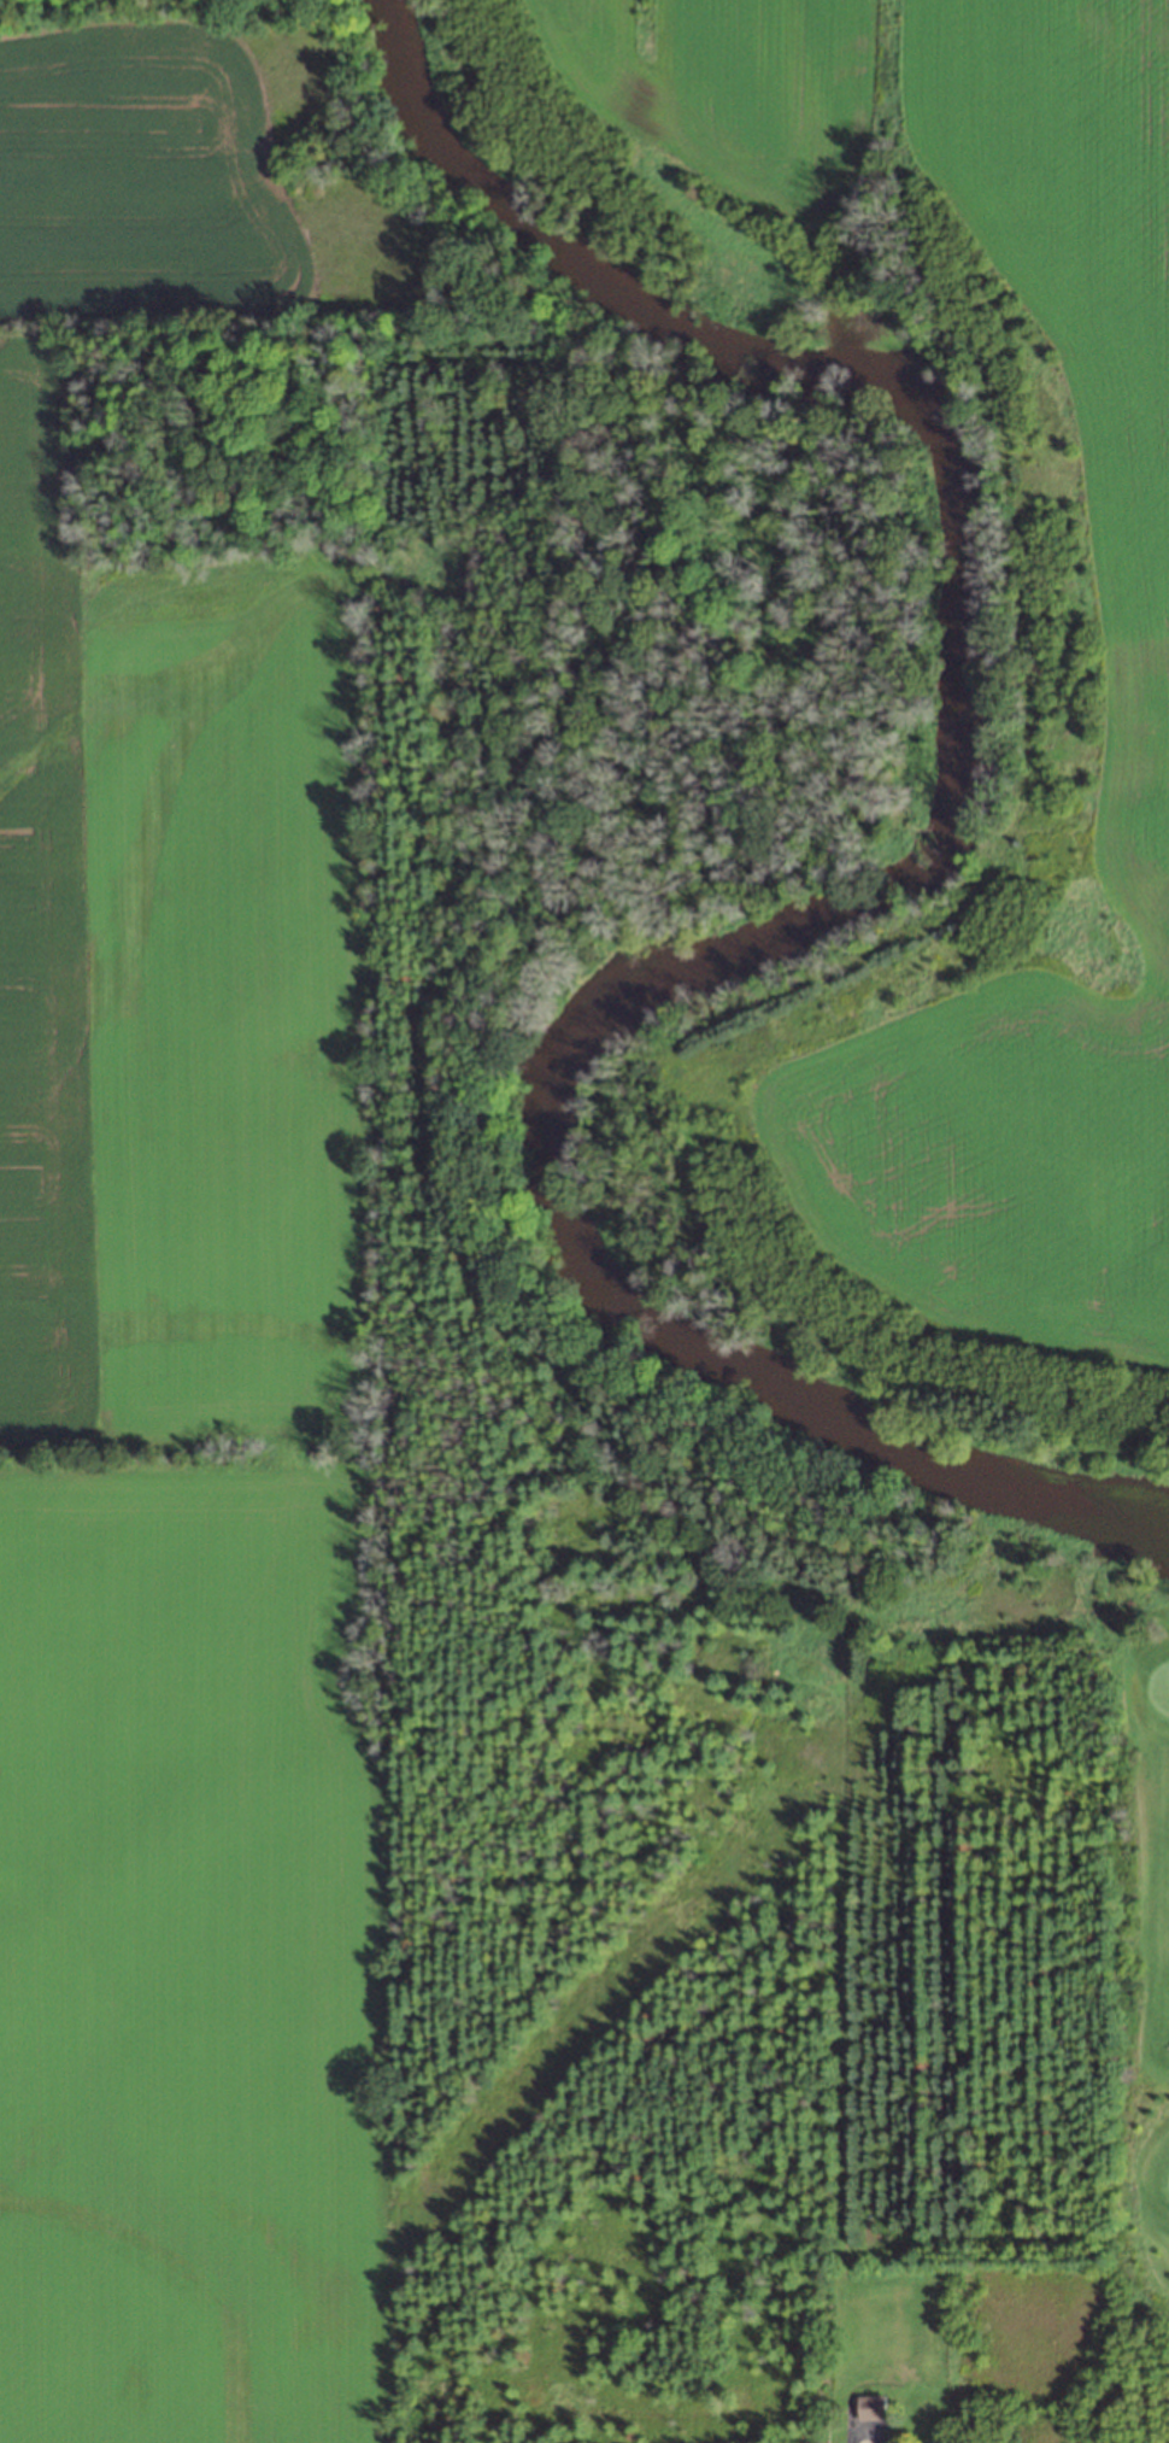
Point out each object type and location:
river: (863, 873)
park: (1141, 2016)
building: (869, 2407)

